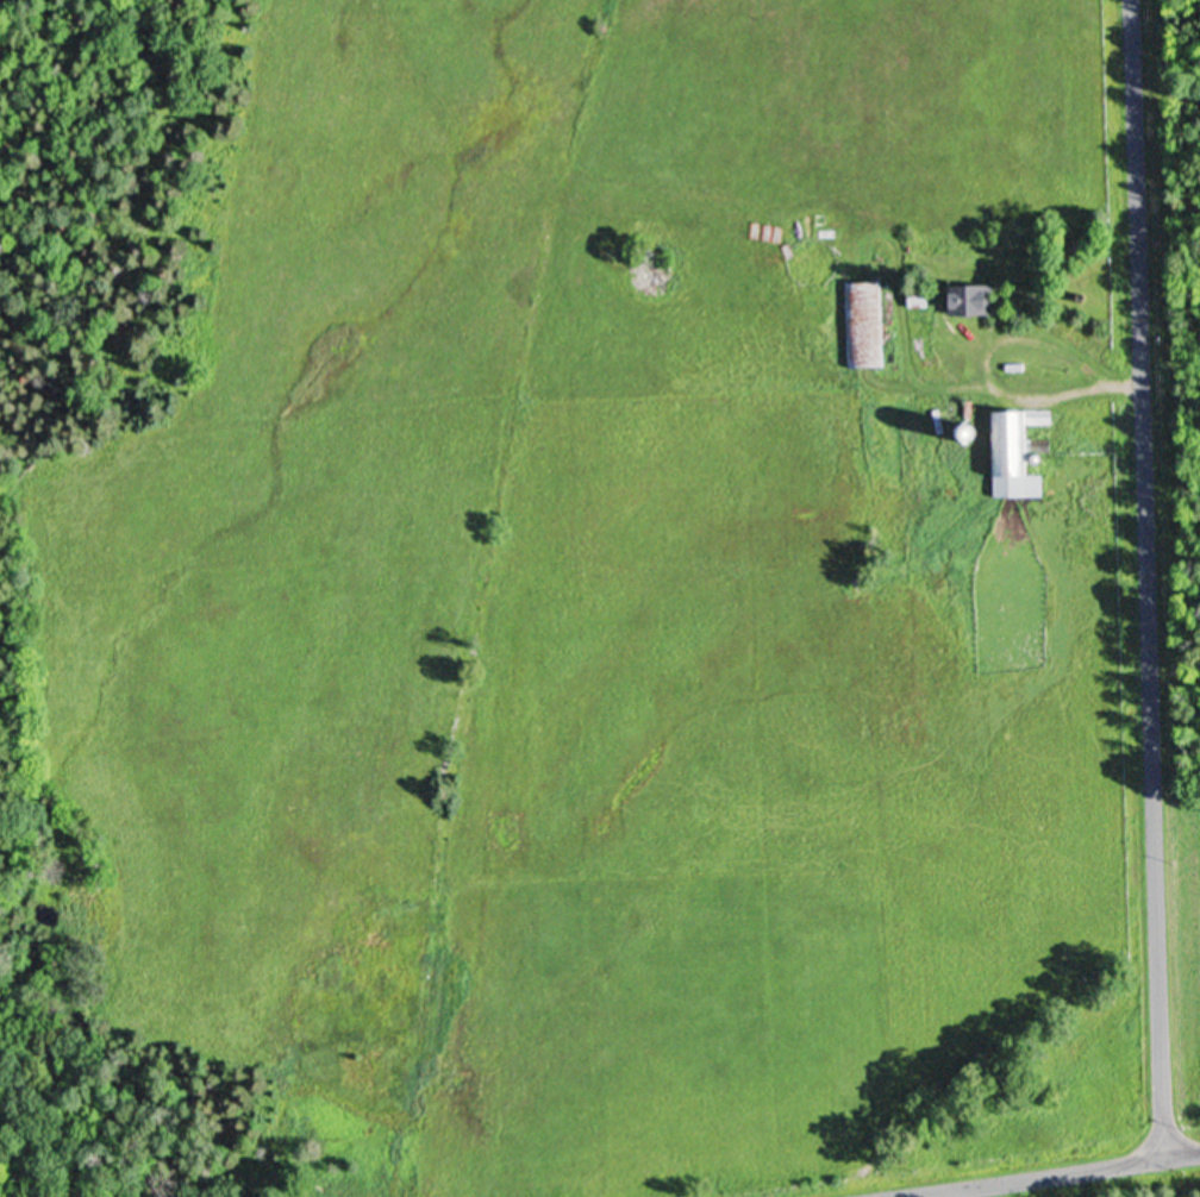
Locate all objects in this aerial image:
building: (862, 290)
building: (965, 299)
road: (993, 350)
building: (1011, 452)
road: (1150, 578)
road: (1052, 1174)

